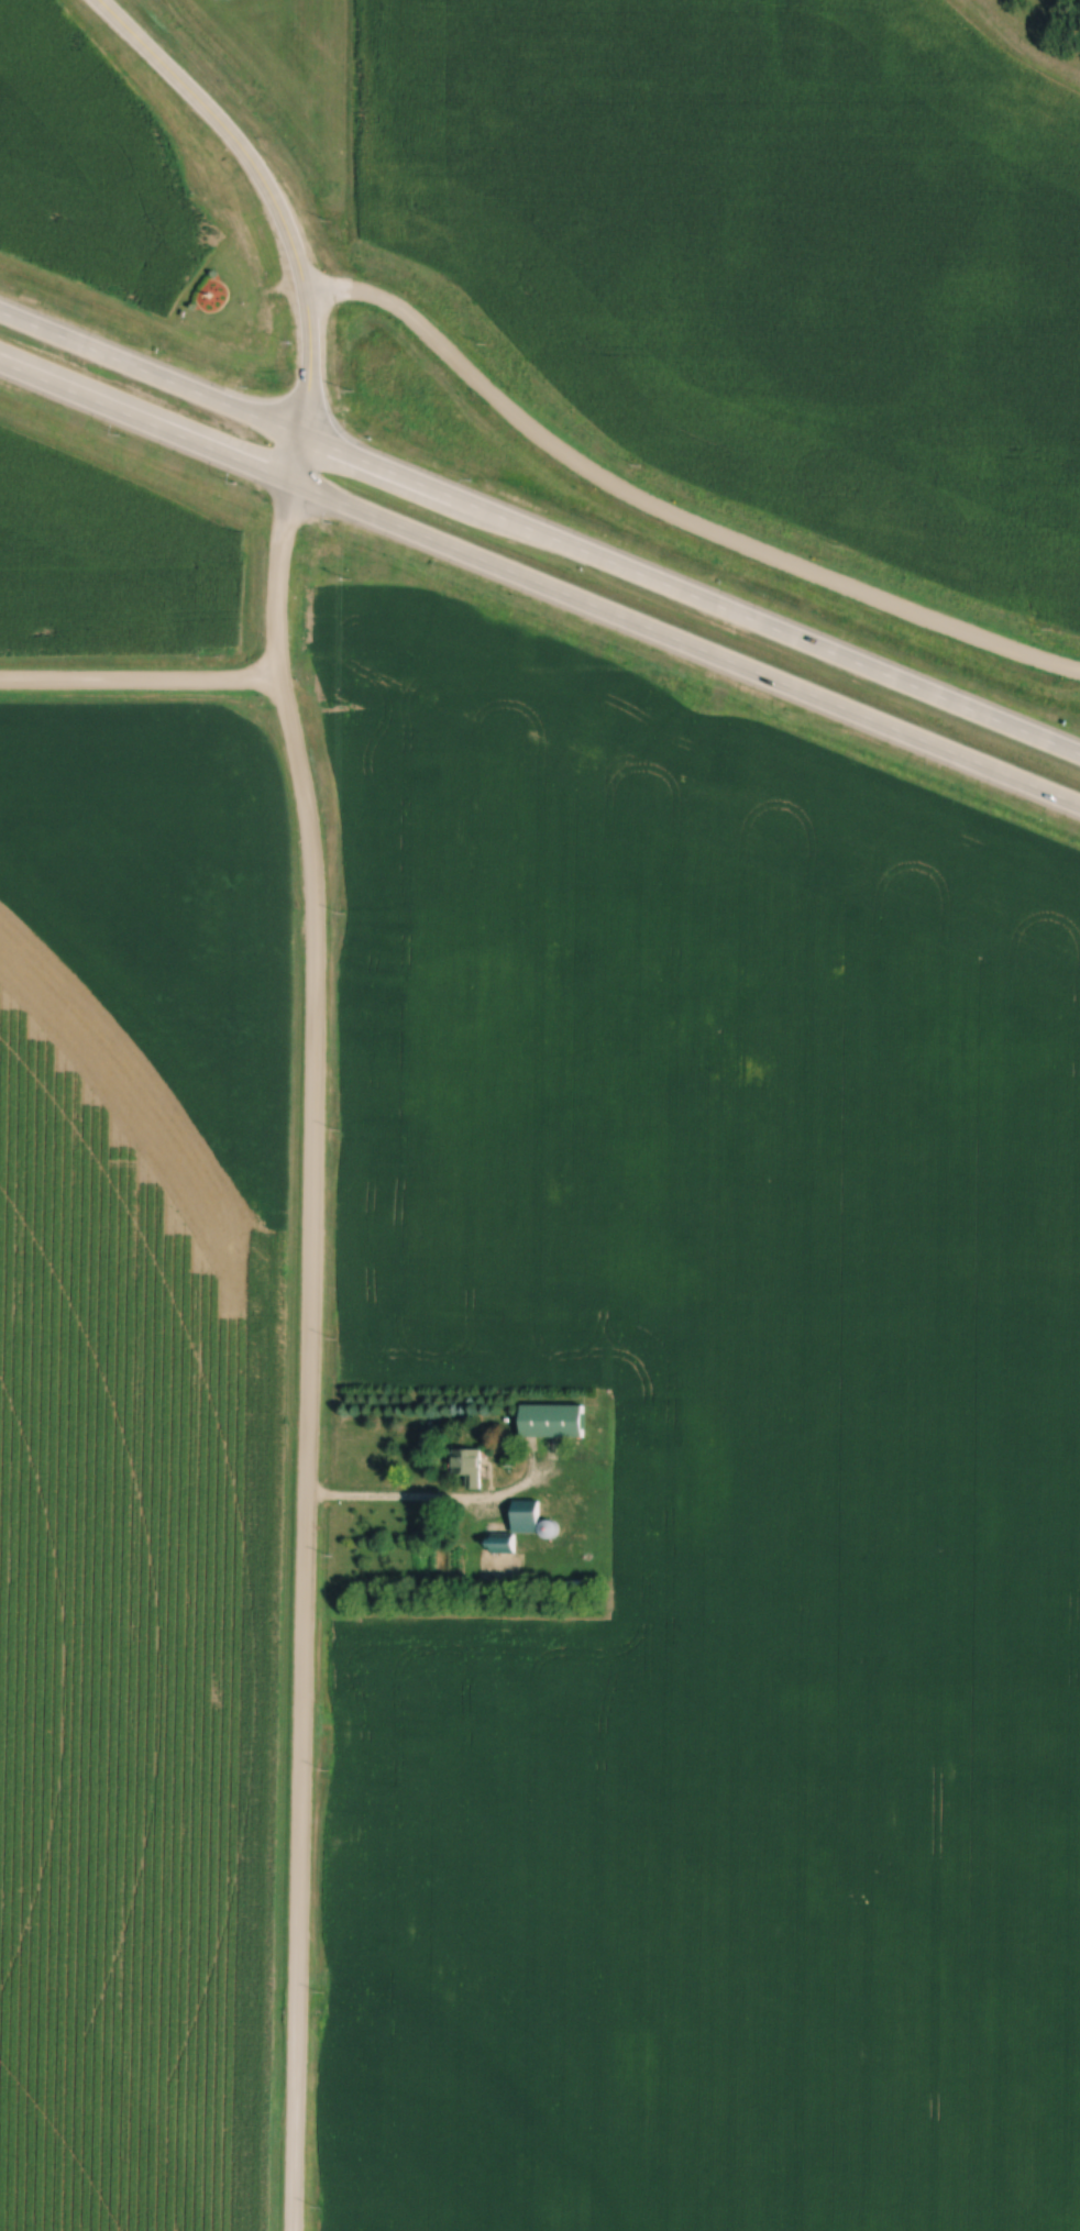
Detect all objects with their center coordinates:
road: (271, 188)
road: (151, 372)
road: (146, 421)
road: (297, 457)
road: (670, 510)
road: (691, 593)
road: (685, 642)
road: (142, 682)
road: (309, 1354)
building: (554, 1422)
building: (469, 1465)
road: (420, 1498)
building: (527, 1517)
building: (503, 1546)

